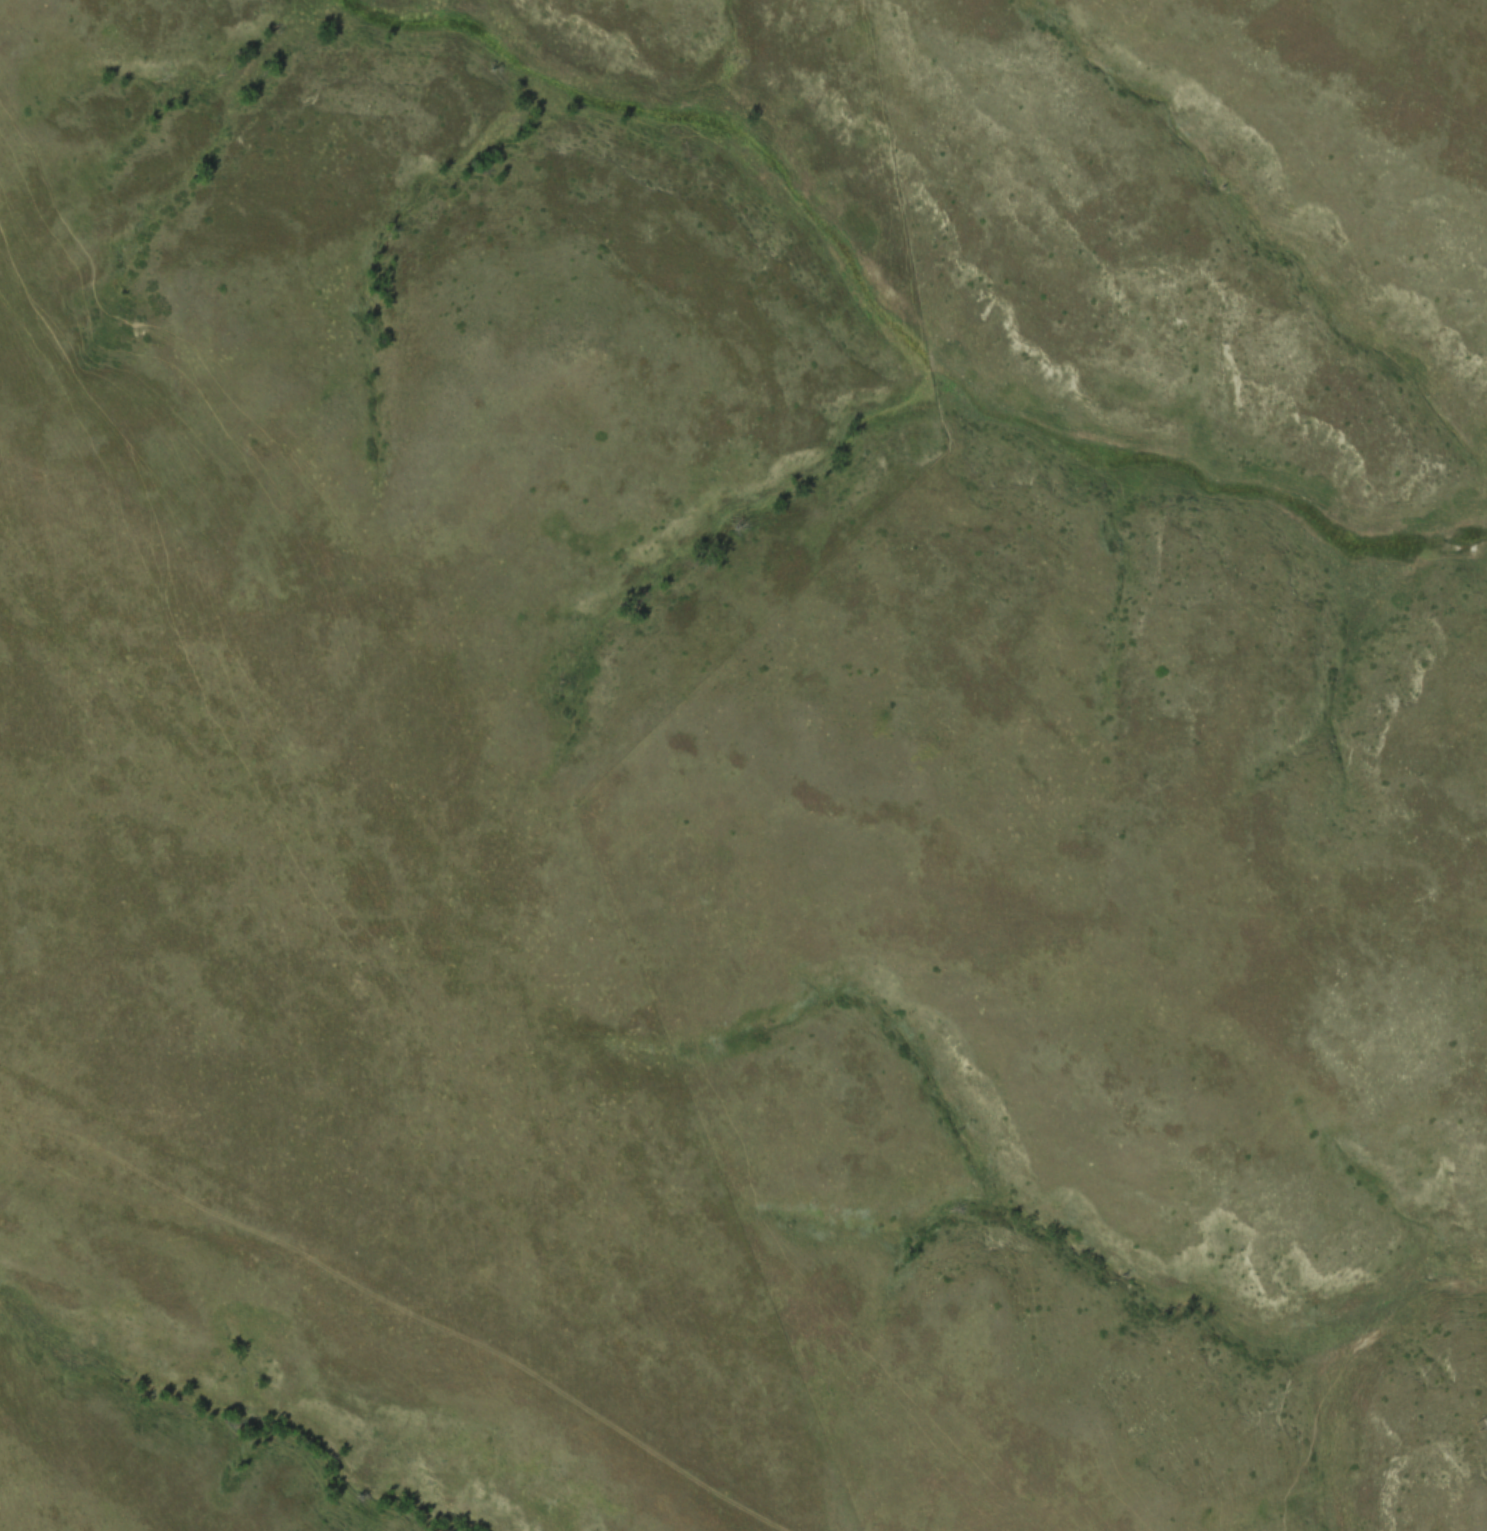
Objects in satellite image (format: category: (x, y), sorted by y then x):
power tower: (1477, 1427)

